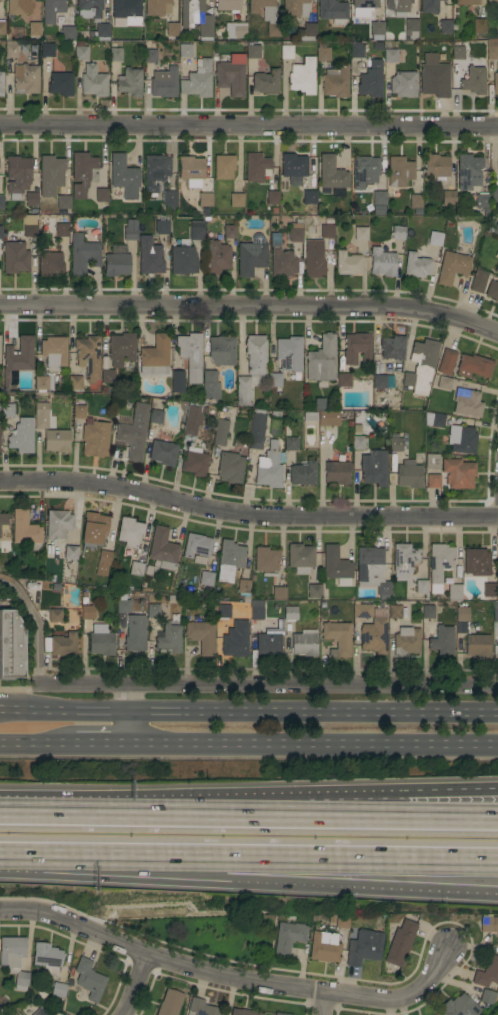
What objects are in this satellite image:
building: (468, 2)
building: (494, 2)
building: (228, 5)
building: (364, 6)
building: (430, 6)
building: (19, 7)
building: (155, 7)
building: (399, 7)
building: (89, 8)
building: (296, 8)
building: (52, 9)
building: (127, 11)
building: (333, 11)
building: (191, 12)
building: (267, 15)
building: (59, 19)
building: (480, 25)
building: (411, 26)
building: (446, 26)
building: (206, 27)
building: (2, 28)
building: (35, 29)
building: (173, 29)
building: (377, 31)
building: (102, 32)
building: (236, 32)
building: (308, 32)
building: (67, 33)
building: (92, 35)
building: (378, 47)
building: (24, 48)
building: (11, 50)
building: (47, 50)
building: (81, 51)
building: (186, 51)
building: (253, 51)
building: (357, 51)
building: (286, 52)
building: (323, 52)
building: (390, 53)
building: (457, 53)
building: (115, 54)
building: (150, 56)
building: (33, 57)
building: (492, 63)
building: (230, 76)
building: (434, 76)
building: (303, 77)
building: (26, 79)
building: (198, 80)
building: (473, 80)
building: (94, 81)
building: (371, 81)
building: (130, 82)
building: (266, 82)
building: (336, 82)
building: (165, 83)
building: (1, 84)
building: (61, 84)
building: (403, 84)
road: (249, 126)
building: (436, 166)
building: (223, 167)
building: (256, 167)
building: (294, 168)
building: (365, 169)
building: (52, 170)
building: (191, 171)
building: (399, 171)
building: (469, 172)
building: (155, 173)
building: (331, 173)
building: (83, 174)
building: (18, 176)
building: (124, 176)
building: (101, 195)
building: (494, 195)
building: (309, 197)
building: (448, 197)
building: (273, 198)
building: (379, 198)
building: (31, 199)
building: (169, 199)
building: (205, 200)
building: (236, 200)
building: (415, 201)
building: (482, 201)
building: (1, 202)
building: (63, 202)
building: (206, 211)
building: (275, 211)
building: (207, 219)
building: (450, 222)
building: (30, 227)
building: (162, 227)
building: (62, 230)
building: (130, 230)
building: (196, 230)
building: (327, 230)
building: (493, 230)
building: (229, 231)
building: (296, 231)
building: (0, 232)
building: (360, 233)
building: (398, 233)
building: (435, 239)
building: (83, 255)
building: (149, 256)
building: (251, 256)
building: (314, 256)
building: (15, 257)
building: (216, 257)
building: (183, 259)
building: (283, 263)
building: (348, 263)
building: (382, 263)
building: (50, 264)
building: (116, 264)
building: (417, 265)
building: (452, 267)
building: (496, 269)
building: (478, 280)
building: (492, 290)
road: (251, 307)
building: (392, 347)
building: (357, 348)
building: (121, 349)
building: (222, 350)
building: (54, 352)
building: (289, 354)
building: (256, 355)
building: (191, 356)
building: (88, 357)
building: (321, 359)
building: (17, 362)
building: (159, 362)
building: (446, 362)
building: (104, 363)
building: (421, 365)
building: (474, 366)
building: (107, 376)
building: (298, 376)
building: (344, 380)
building: (389, 381)
building: (41, 382)
building: (75, 382)
building: (274, 382)
building: (379, 382)
building: (444, 383)
building: (321, 384)
building: (210, 385)
building: (243, 390)
building: (467, 403)
building: (319, 404)
building: (8, 410)
building: (79, 411)
building: (310, 416)
building: (43, 417)
building: (156, 417)
building: (329, 418)
building: (193, 419)
building: (434, 419)
building: (256, 429)
building: (220, 431)
building: (134, 433)
building: (360, 435)
building: (22, 436)
building: (95, 439)
building: (461, 439)
building: (57, 441)
building: (291, 444)
building: (396, 448)
building: (163, 452)
building: (194, 462)
building: (432, 462)
building: (269, 467)
building: (230, 468)
building: (374, 468)
building: (337, 472)
building: (302, 473)
building: (458, 473)
building: (408, 475)
building: (433, 481)
building: (442, 484)
road: (247, 516)
building: (4, 519)
building: (58, 525)
building: (94, 527)
building: (26, 531)
building: (130, 532)
building: (196, 545)
building: (83, 549)
building: (55, 550)
building: (157, 554)
building: (70, 556)
building: (300, 558)
building: (104, 560)
building: (199, 560)
building: (229, 560)
building: (266, 560)
building: (404, 560)
building: (440, 561)
building: (476, 562)
building: (369, 563)
building: (212, 565)
building: (336, 566)
building: (497, 569)
building: (458, 575)
building: (206, 578)
building: (54, 579)
building: (44, 586)
building: (51, 586)
building: (243, 586)
building: (421, 586)
building: (383, 590)
building: (314, 591)
building: (489, 591)
building: (454, 592)
building: (278, 593)
building: (123, 606)
building: (220, 609)
building: (152, 610)
building: (257, 610)
building: (362, 610)
building: (87, 612)
building: (396, 612)
building: (428, 612)
building: (495, 612)
building: (290, 613)
building: (462, 614)
building: (55, 615)
road: (35, 625)
building: (280, 626)
building: (288, 627)
building: (135, 633)
building: (201, 636)
building: (374, 636)
building: (169, 637)
building: (337, 638)
building: (236, 639)
building: (442, 640)
building: (101, 641)
building: (406, 641)
building: (304, 643)
building: (60, 644)
building: (268, 644)
building: (477, 645)
building: (12, 646)
road: (267, 687)
road: (248, 714)
road: (131, 716)
road: (37, 747)
road: (103, 747)
road: (314, 747)
road: (453, 809)
road: (155, 815)
road: (359, 818)
road: (453, 819)
road: (111, 852)
road: (360, 855)
road: (360, 868)
building: (338, 921)
building: (489, 923)
building: (288, 938)
building: (400, 943)
building: (325, 947)
building: (364, 947)
building: (47, 958)
building: (14, 960)
building: (487, 973)
building: (89, 979)
road: (230, 980)
road: (133, 987)
building: (58, 989)
building: (487, 997)
building: (170, 1003)
road: (323, 1004)
building: (459, 1006)
building: (201, 1008)
building: (46, 1012)
building: (243, 1012)
building: (65, 1013)
road: (496, 1013)
building: (280, 1014)

